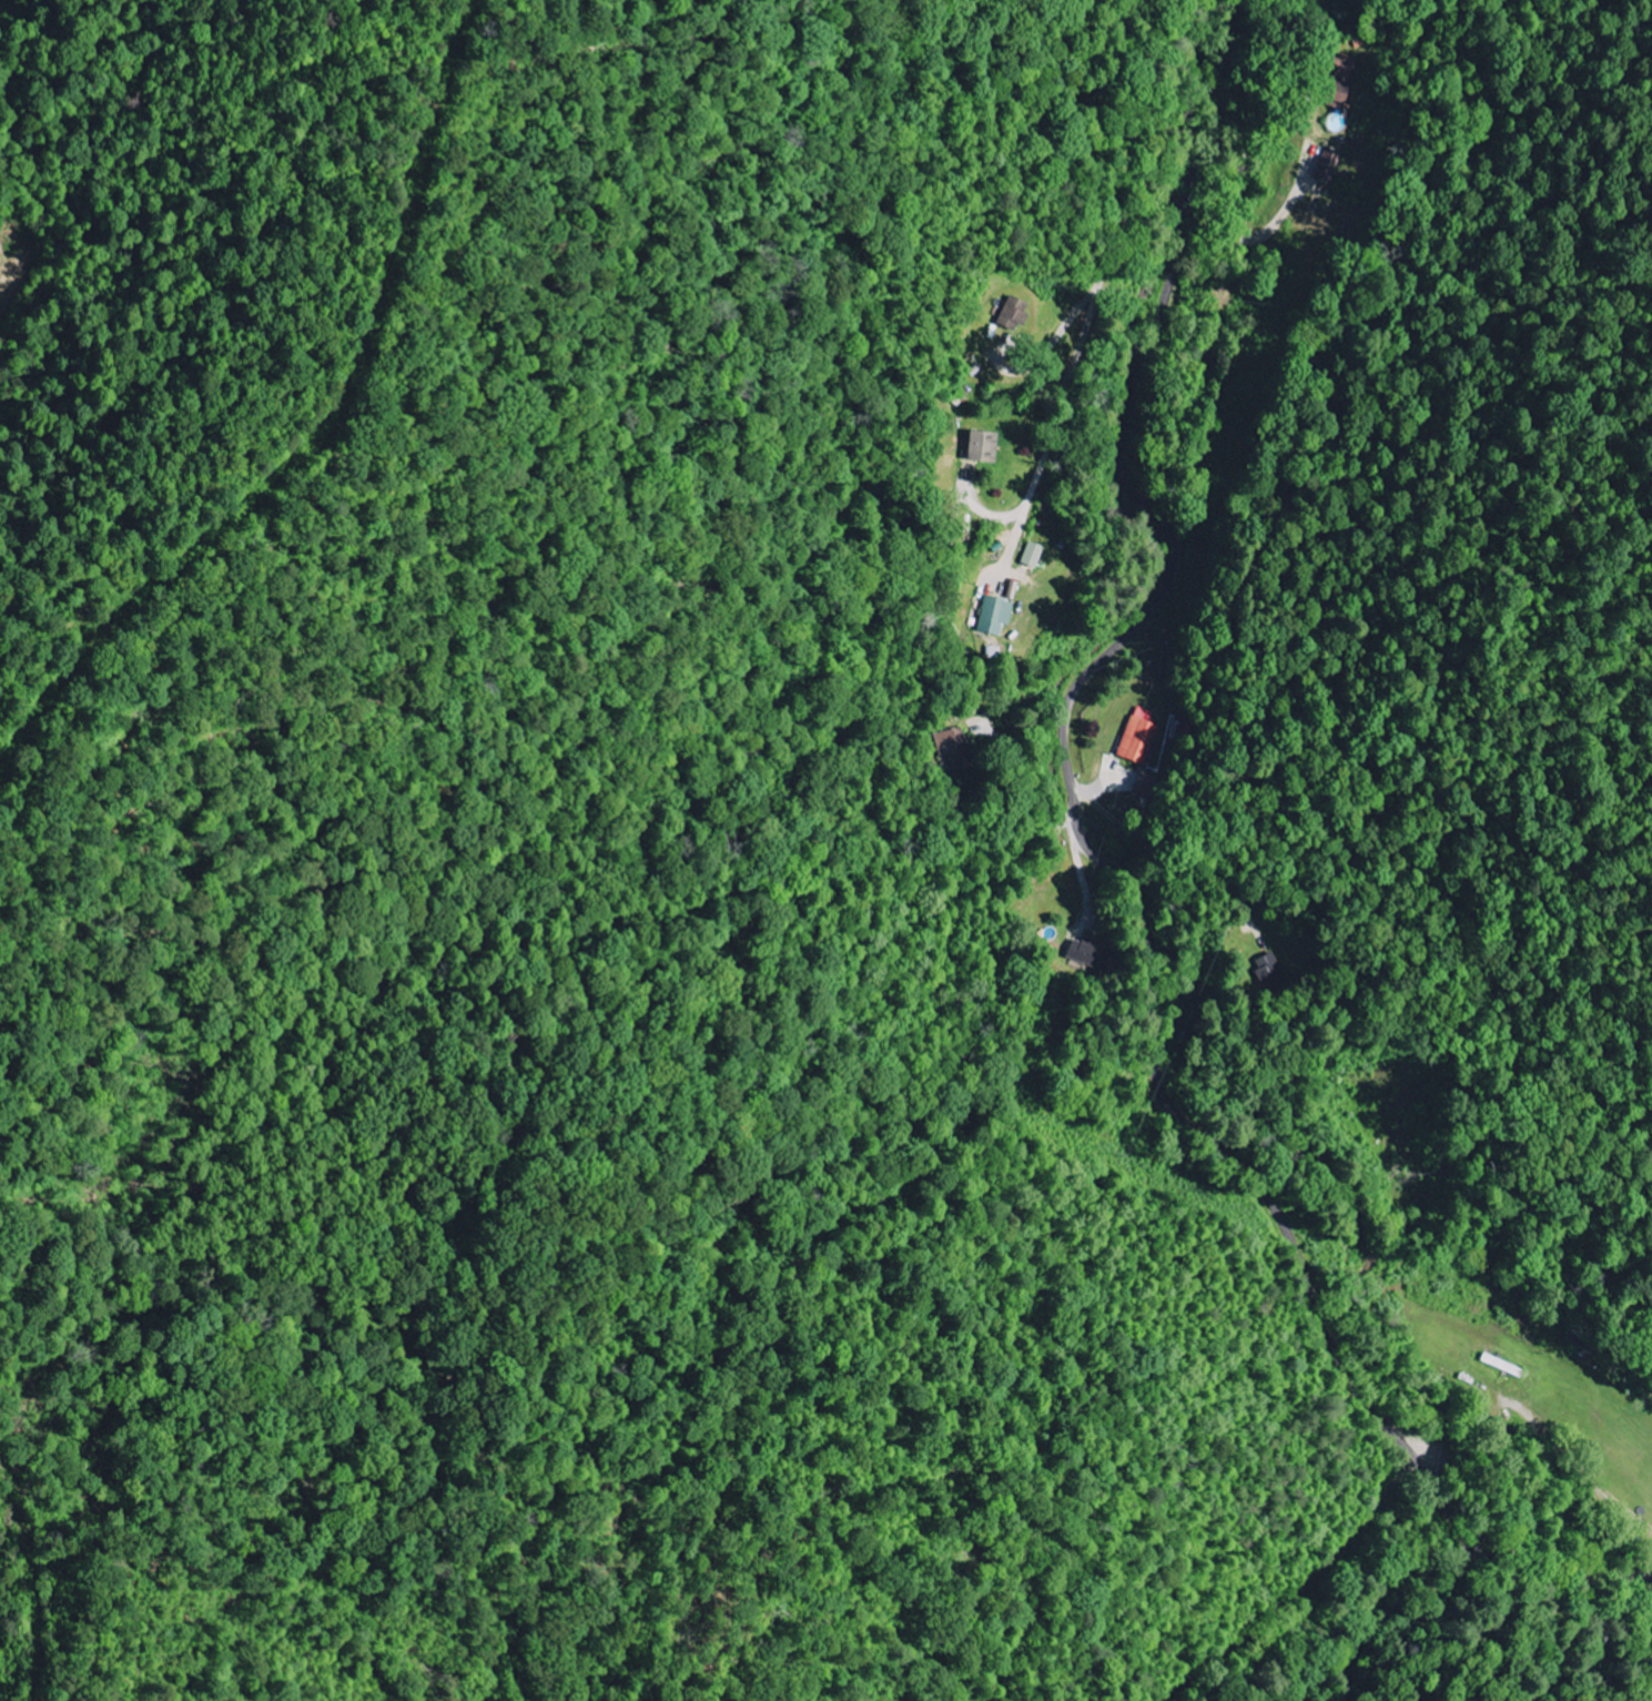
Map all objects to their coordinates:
building: (1349, 69)
building: (1341, 95)
building: (1332, 166)
building: (1016, 312)
road: (1073, 364)
building: (986, 447)
building: (1034, 555)
building: (997, 615)
building: (1141, 737)
building: (954, 749)
road: (1122, 889)
building: (1087, 952)
building: (1267, 964)
road: (1267, 1561)
road: (1555, 1562)

